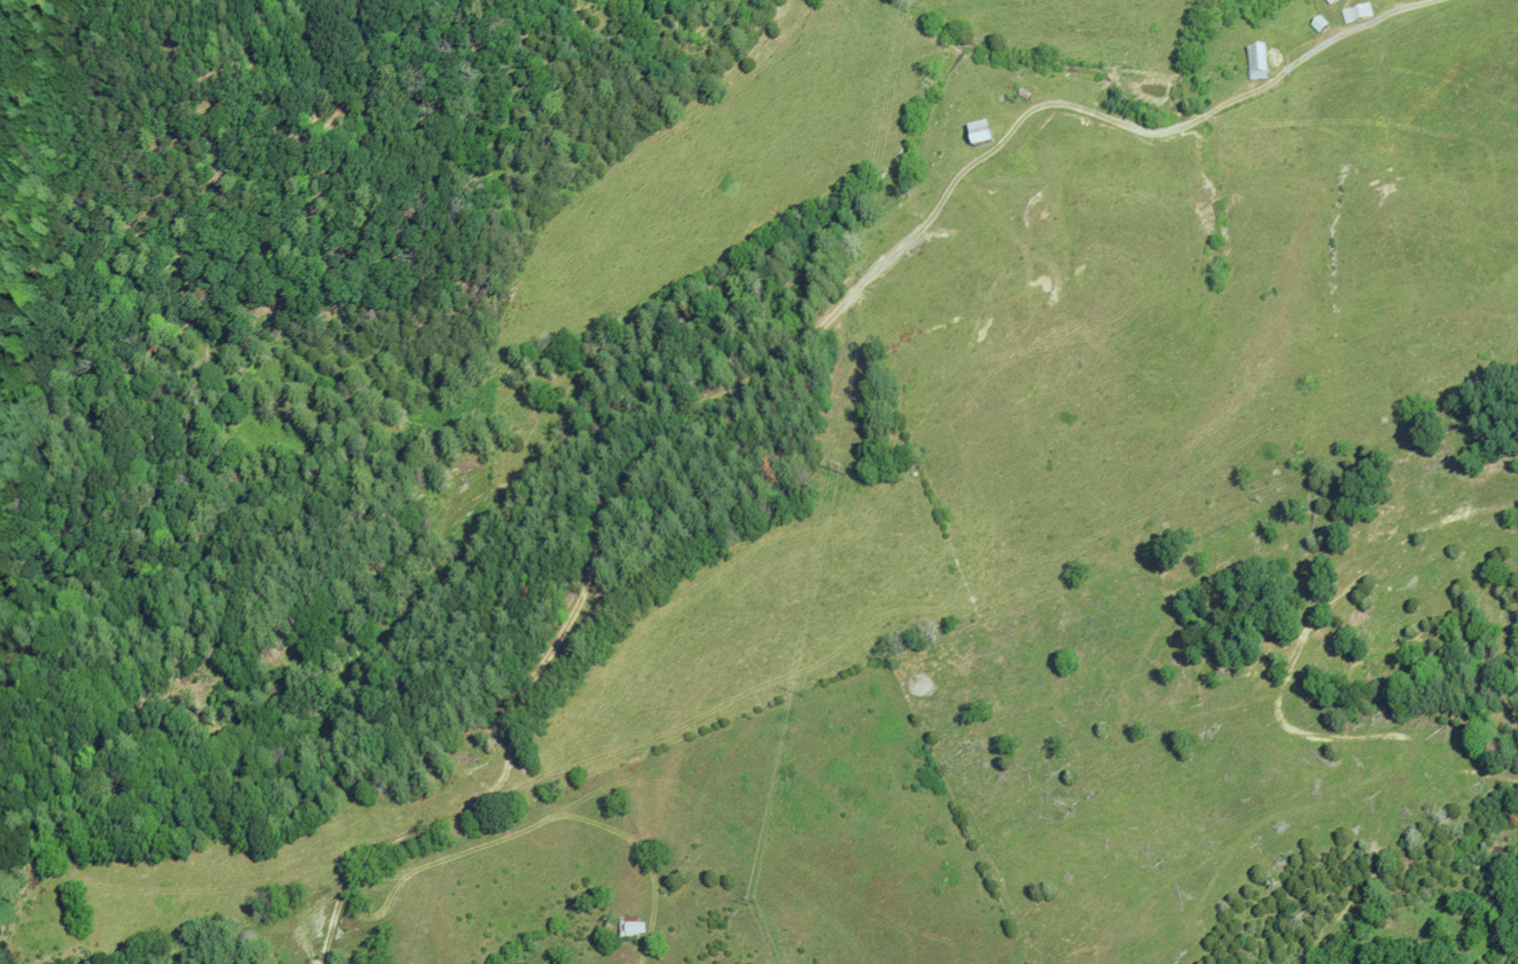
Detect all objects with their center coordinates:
building: (1357, 13)
building: (1320, 25)
road: (1321, 44)
building: (1257, 63)
building: (979, 136)
road: (797, 350)
building: (632, 926)

